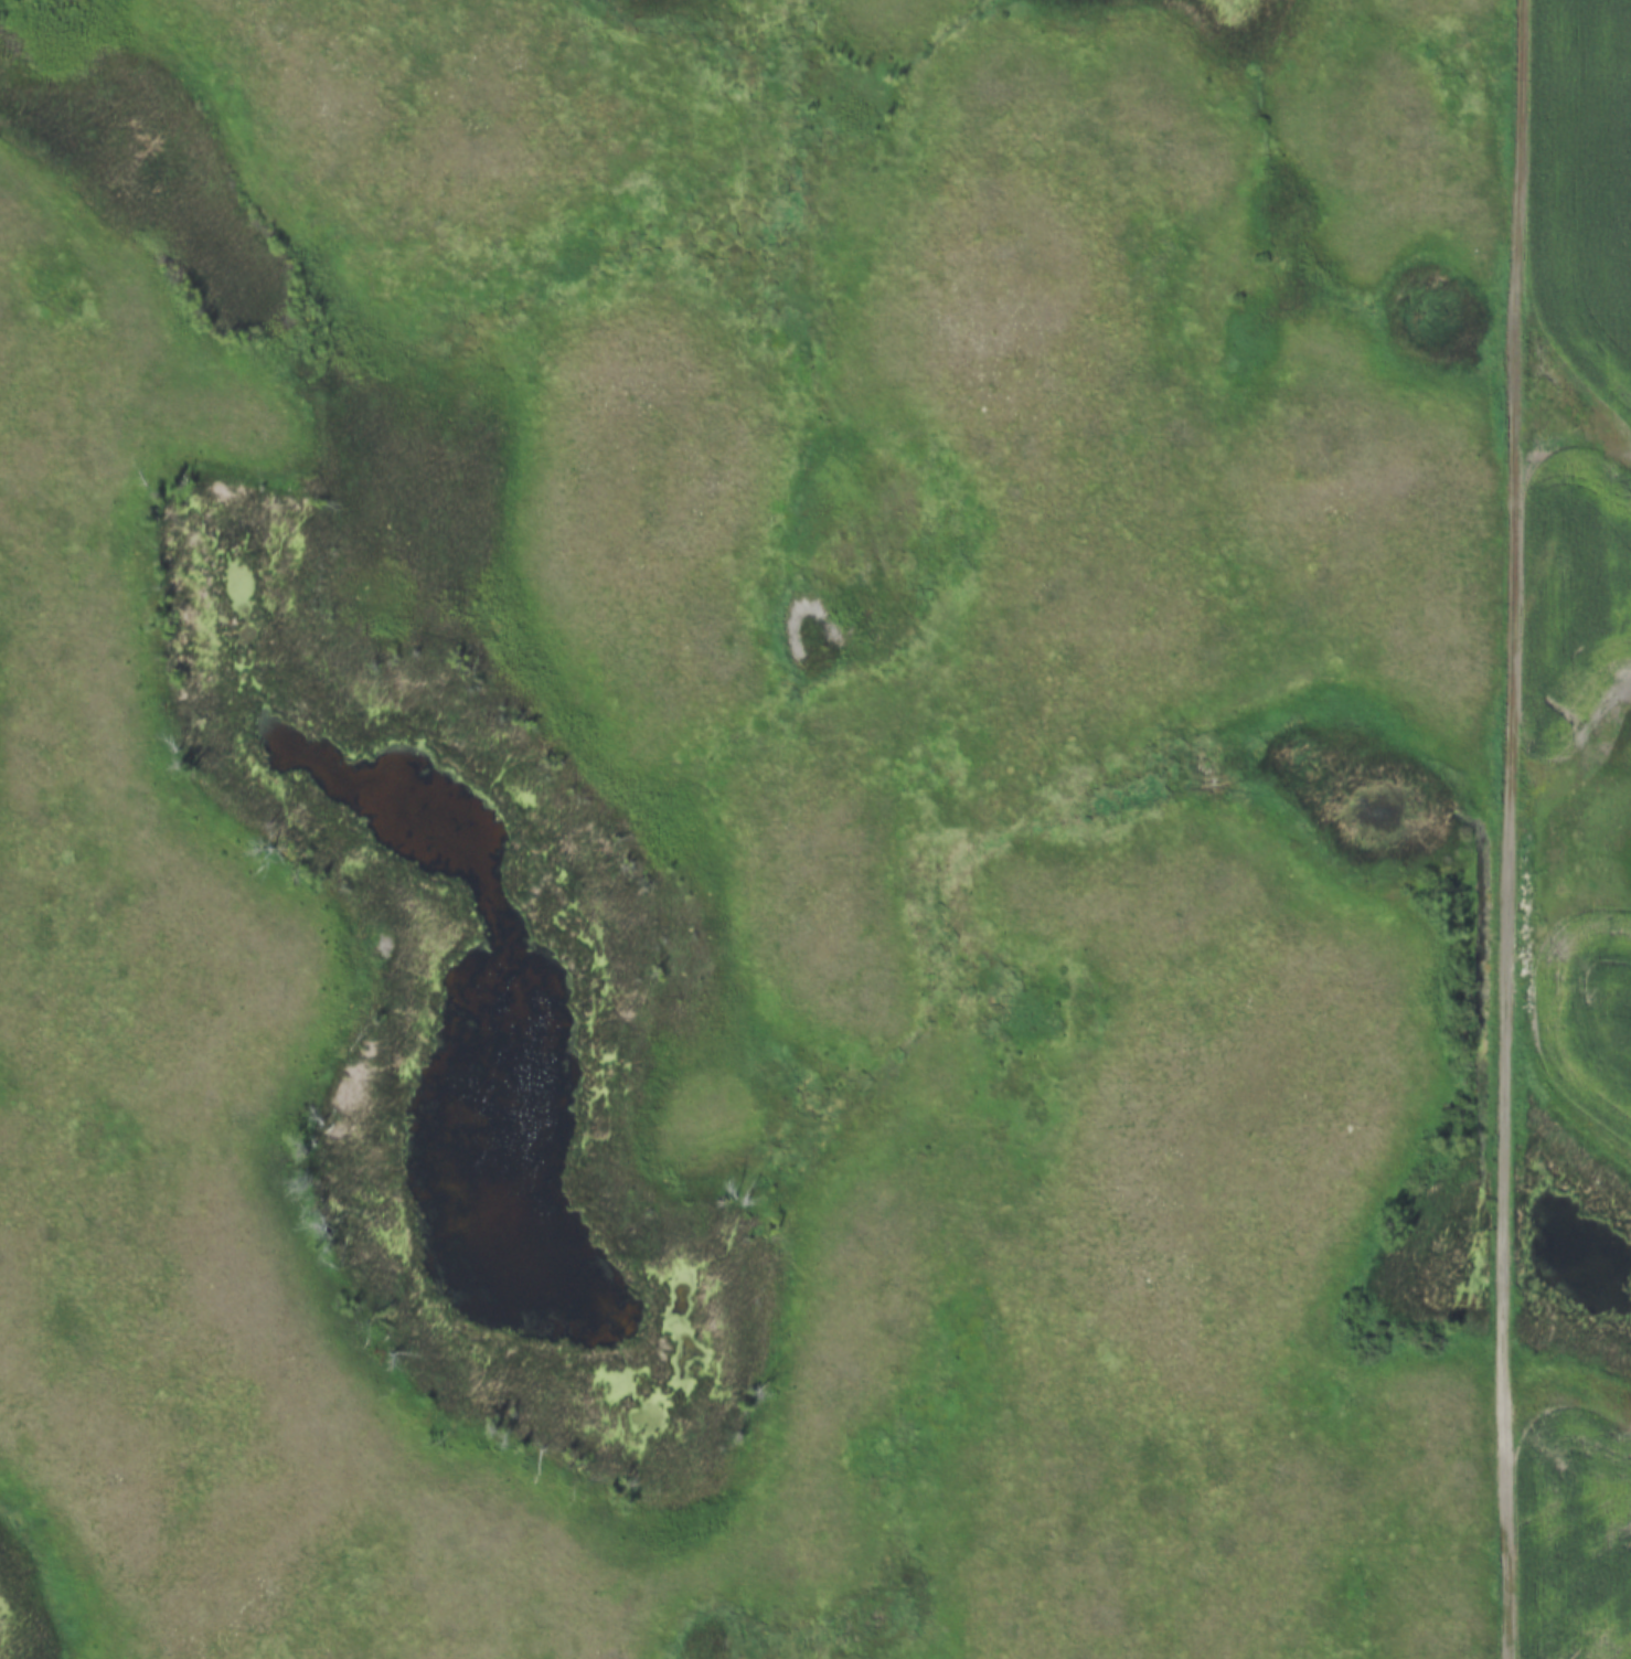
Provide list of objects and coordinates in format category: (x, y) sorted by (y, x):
road: (1506, 829)

